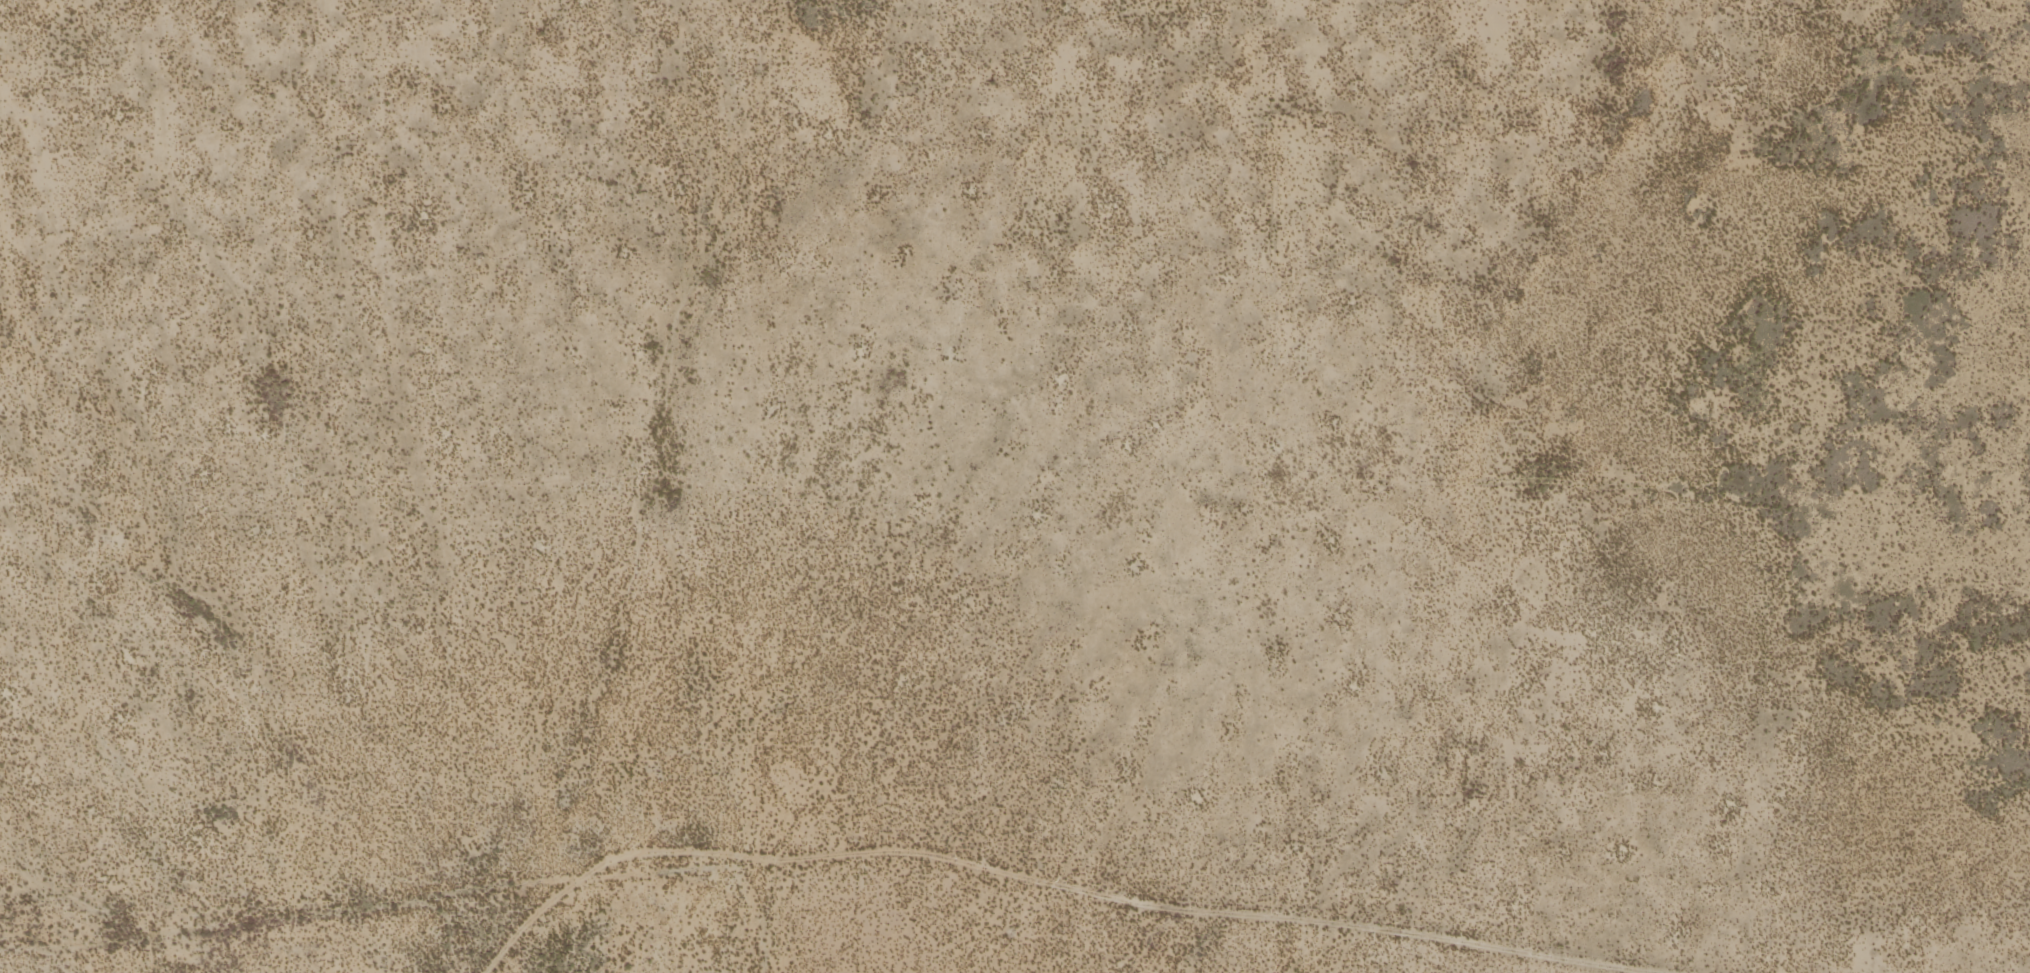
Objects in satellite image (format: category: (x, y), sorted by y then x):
road: (944, 817)
road: (500, 916)

